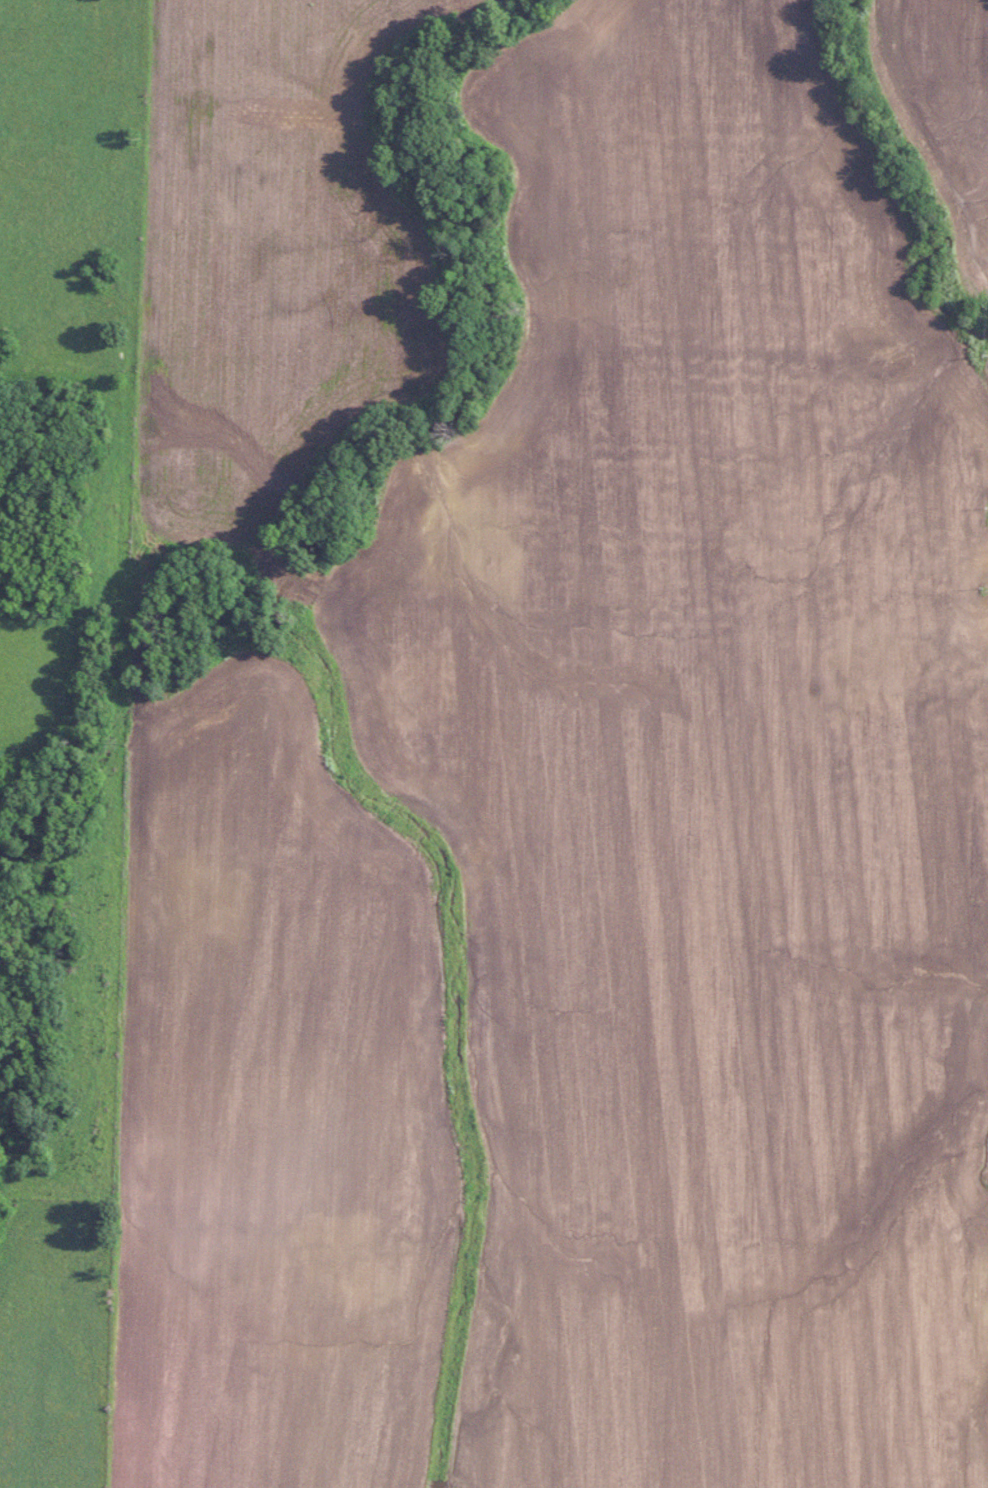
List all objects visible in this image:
building: (927, 569)
road: (976, 580)
building: (851, 648)
building: (955, 666)

